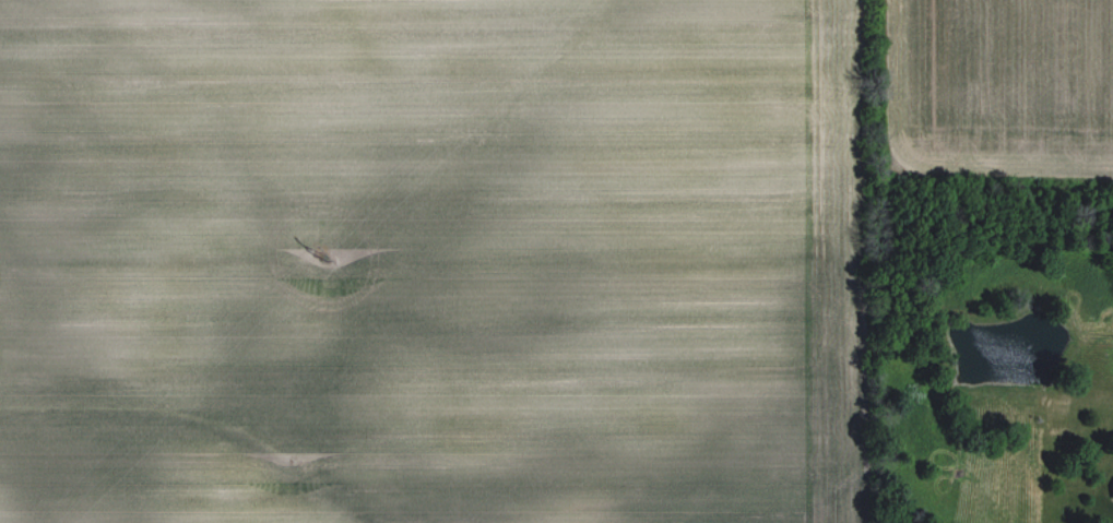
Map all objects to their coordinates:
power tower: (322, 257)

